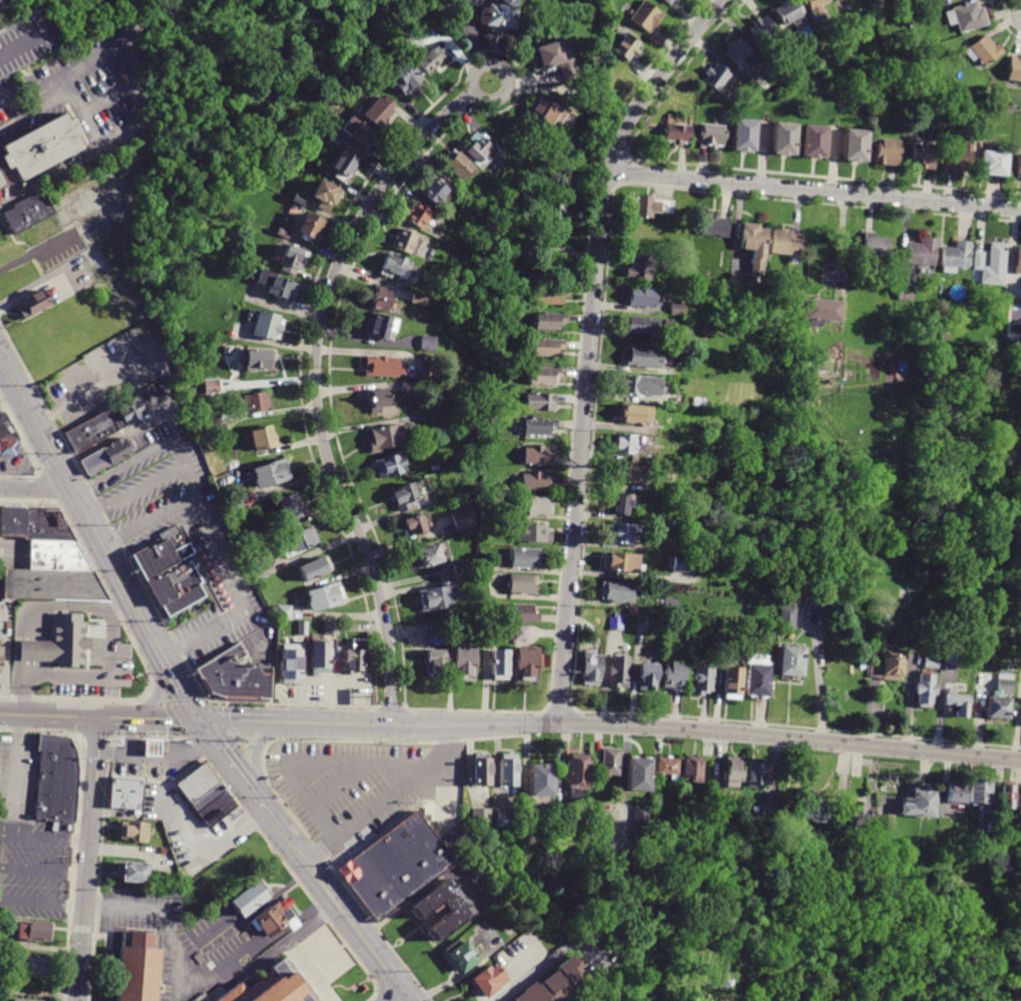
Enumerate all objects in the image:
building: (668, 1)
building: (814, 8)
building: (786, 11)
building: (501, 15)
building: (968, 16)
building: (647, 17)
building: (760, 29)
road: (24, 41)
building: (627, 47)
road: (128, 50)
building: (985, 50)
building: (735, 51)
building: (556, 60)
building: (431, 61)
building: (1014, 69)
building: (715, 77)
building: (408, 78)
building: (380, 80)
road: (109, 95)
road: (82, 108)
road: (37, 111)
building: (381, 111)
building: (545, 111)
building: (677, 134)
building: (710, 135)
building: (743, 135)
building: (360, 136)
building: (783, 138)
building: (336, 139)
building: (813, 140)
building: (37, 145)
building: (855, 145)
building: (479, 148)
building: (887, 151)
building: (924, 156)
building: (959, 157)
building: (993, 163)
building: (345, 166)
building: (459, 166)
building: (1018, 166)
building: (317, 168)
road: (51, 176)
road: (814, 190)
building: (435, 192)
building: (328, 196)
building: (300, 201)
building: (653, 207)
building: (26, 211)
building: (418, 216)
building: (554, 217)
building: (713, 226)
building: (309, 227)
building: (283, 233)
building: (406, 241)
building: (542, 242)
building: (784, 242)
building: (751, 243)
building: (872, 246)
building: (921, 251)
building: (955, 257)
building: (293, 259)
building: (1017, 261)
building: (990, 264)
building: (391, 265)
building: (641, 269)
road: (31, 284)
building: (278, 285)
building: (905, 292)
building: (549, 297)
building: (644, 297)
building: (380, 300)
building: (417, 300)
building: (32, 304)
building: (676, 309)
building: (820, 311)
building: (549, 321)
building: (266, 323)
building: (667, 324)
road: (319, 326)
building: (382, 326)
building: (643, 326)
building: (944, 337)
road: (589, 340)
building: (427, 343)
building: (547, 348)
building: (693, 354)
building: (257, 359)
building: (421, 359)
building: (644, 359)
building: (382, 366)
building: (805, 367)
building: (544, 376)
building: (212, 386)
building: (409, 386)
building: (642, 386)
building: (189, 392)
building: (378, 400)
building: (257, 401)
building: (697, 402)
building: (540, 403)
building: (638, 416)
building: (104, 422)
building: (768, 423)
building: (4, 425)
building: (212, 426)
building: (537, 427)
building: (263, 438)
building: (386, 438)
building: (625, 443)
building: (8, 448)
building: (102, 454)
building: (538, 456)
building: (391, 466)
building: (625, 472)
building: (272, 473)
building: (535, 481)
road: (33, 490)
road: (133, 490)
building: (410, 494)
road: (76, 500)
building: (232, 504)
building: (621, 504)
building: (535, 506)
building: (288, 508)
road: (201, 516)
building: (463, 518)
building: (684, 520)
road: (147, 522)
building: (416, 525)
building: (624, 532)
building: (533, 533)
building: (173, 535)
building: (301, 541)
building: (248, 543)
building: (680, 550)
building: (428, 555)
building: (46, 558)
building: (523, 558)
building: (623, 562)
building: (683, 565)
building: (313, 569)
building: (460, 569)
building: (259, 573)
building: (173, 575)
building: (836, 579)
building: (523, 584)
building: (804, 589)
building: (618, 592)
building: (325, 597)
building: (437, 598)
building: (787, 600)
building: (818, 603)
building: (670, 605)
building: (682, 611)
building: (284, 612)
building: (522, 614)
building: (787, 617)
building: (656, 622)
building: (616, 623)
building: (349, 627)
building: (303, 629)
building: (332, 629)
building: (505, 630)
building: (769, 631)
building: (456, 632)
building: (522, 633)
building: (59, 641)
building: (727, 647)
building: (952, 655)
building: (355, 656)
building: (1, 657)
building: (321, 657)
building: (838, 657)
building: (466, 662)
building: (930, 662)
building: (791, 663)
building: (292, 664)
building: (499, 664)
building: (887, 664)
building: (436, 665)
building: (528, 665)
building: (242, 666)
building: (591, 668)
building: (619, 672)
road: (89, 675)
building: (648, 676)
building: (675, 676)
road: (176, 678)
building: (759, 678)
road: (818, 678)
building: (702, 680)
building: (734, 683)
building: (924, 689)
road: (157, 693)
road: (323, 698)
building: (998, 701)
street lamp: (169, 703)
building: (956, 705)
road: (327, 710)
road: (24, 714)
road: (123, 717)
traffic signals: (198, 718)
road: (294, 720)
road: (706, 730)
building: (152, 748)
gas station: (152, 748)
street lamp: (243, 749)
road: (251, 750)
road: (14, 762)
building: (610, 762)
road: (234, 766)
building: (669, 768)
building: (481, 770)
building: (508, 770)
building: (692, 771)
building: (758, 774)
building: (639, 775)
building: (733, 775)
building: (576, 779)
building: (55, 780)
building: (541, 781)
building: (126, 793)
building: (956, 793)
building: (980, 794)
building: (206, 795)
building: (1006, 796)
road: (389, 802)
building: (919, 803)
building: (813, 812)
building: (1020, 814)
building: (480, 815)
building: (860, 815)
building: (505, 820)
building: (886, 821)
building: (641, 823)
building: (959, 823)
road: (261, 831)
building: (841, 831)
building: (133, 832)
road: (45, 836)
road: (208, 843)
road: (88, 859)
building: (395, 864)
parking lot: (35, 865)
building: (846, 867)
road: (43, 868)
road: (100, 868)
building: (132, 873)
building: (250, 898)
road: (42, 902)
road: (339, 908)
building: (458, 909)
building: (277, 917)
building: (34, 929)
parking lot: (177, 942)
parking lot: (324, 953)
building: (462, 955)
building: (34, 963)
building: (137, 965)
road: (542, 967)
road: (307, 972)
building: (489, 981)
road: (196, 982)
building: (558, 984)
building: (266, 987)
building: (602, 987)
road: (380, 993)
traffic signals: (404, 994)
road: (374, 996)
road: (399, 997)
building: (26, 998)
building: (513, 1000)

